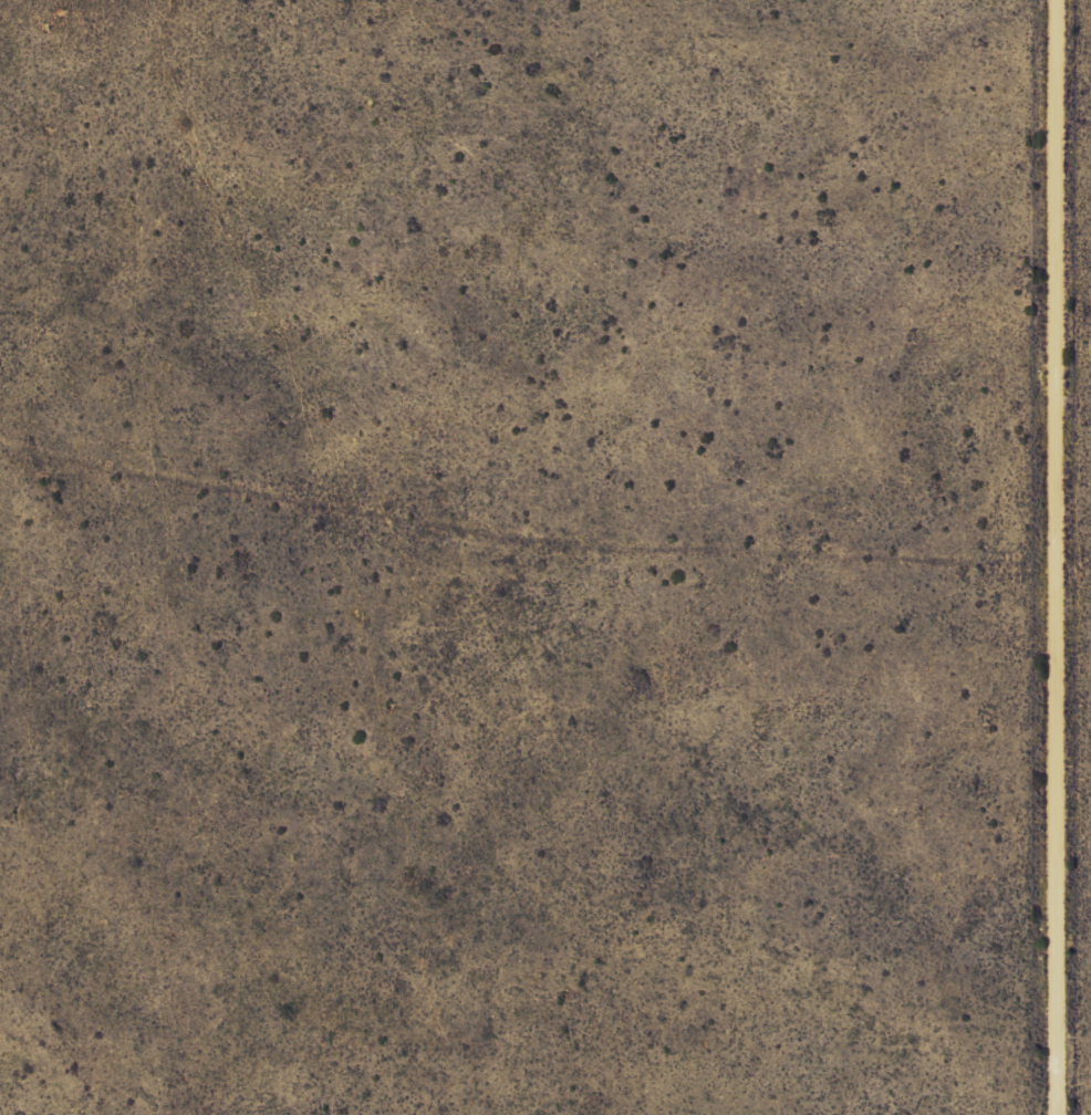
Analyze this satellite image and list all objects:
road: (1057, 557)

